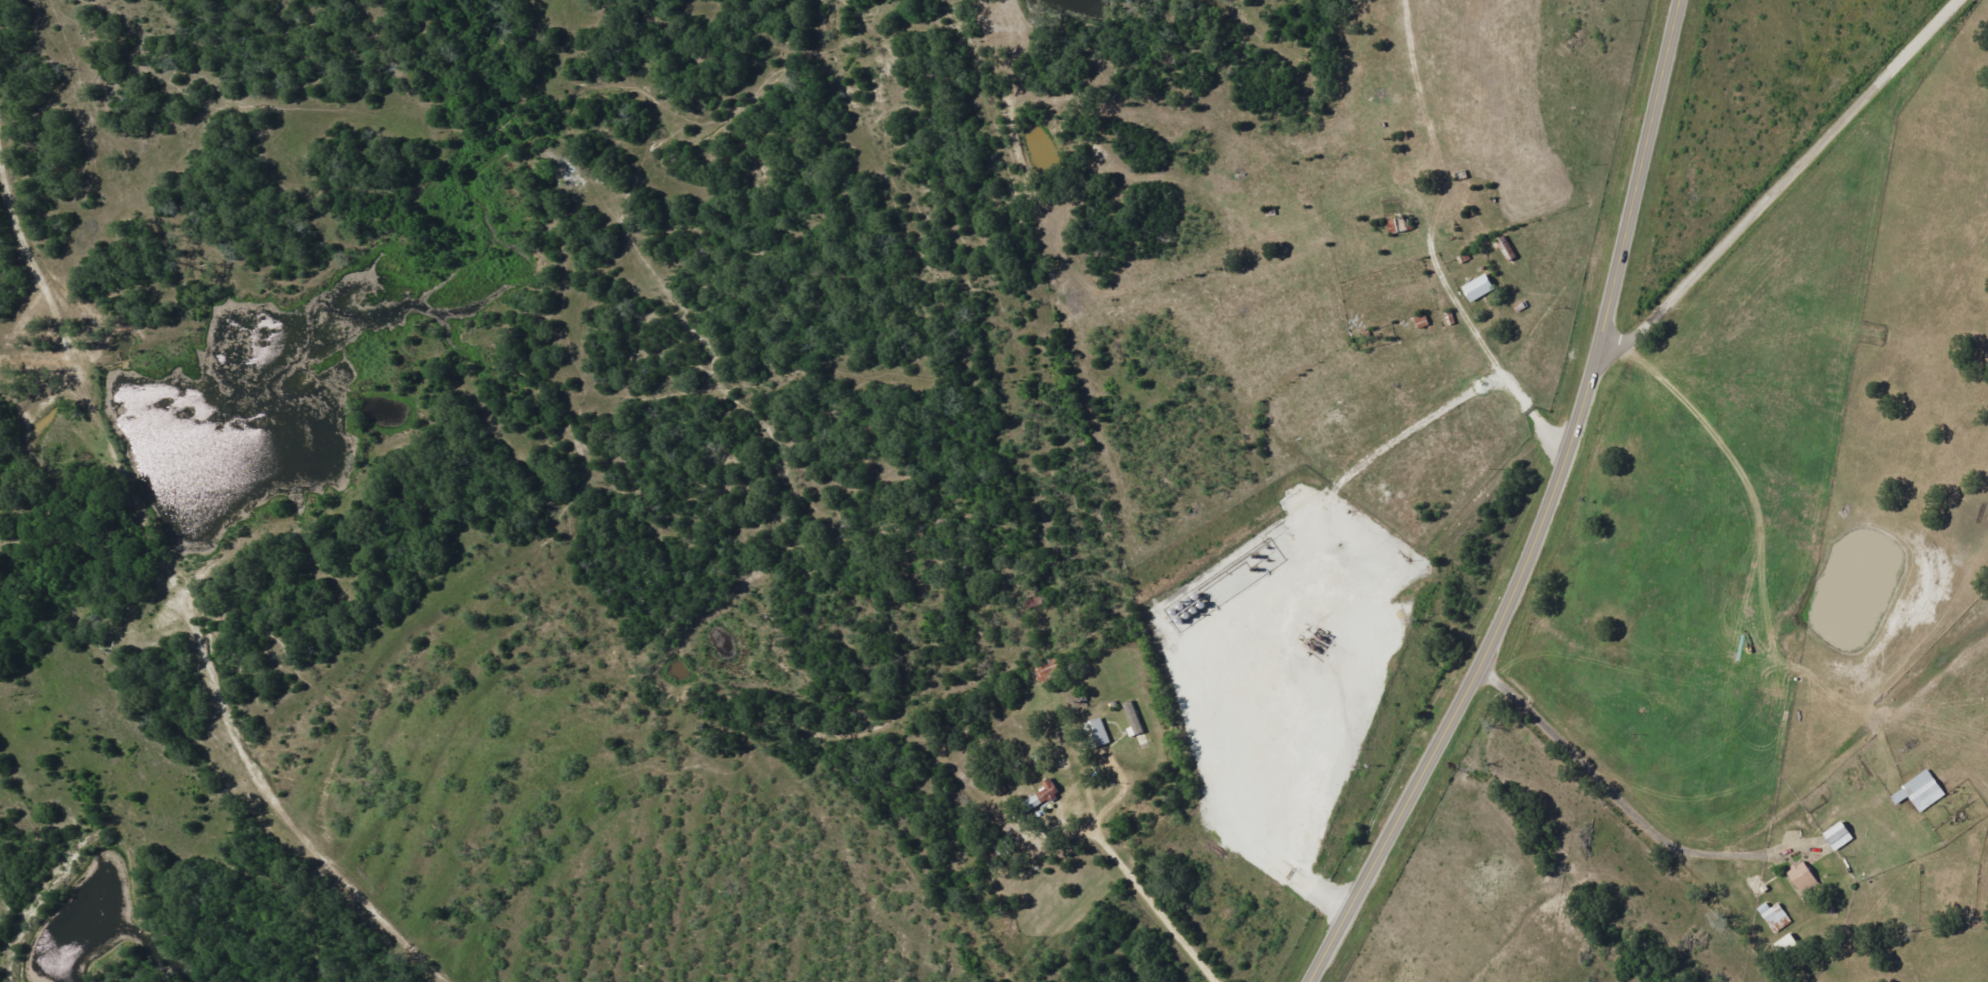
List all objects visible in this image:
road: (1770, 173)
building: (1477, 288)
road: (1547, 510)
building: (1095, 733)
building: (1045, 790)
building: (1919, 792)
building: (1837, 836)
building: (1801, 877)
building: (1773, 916)

